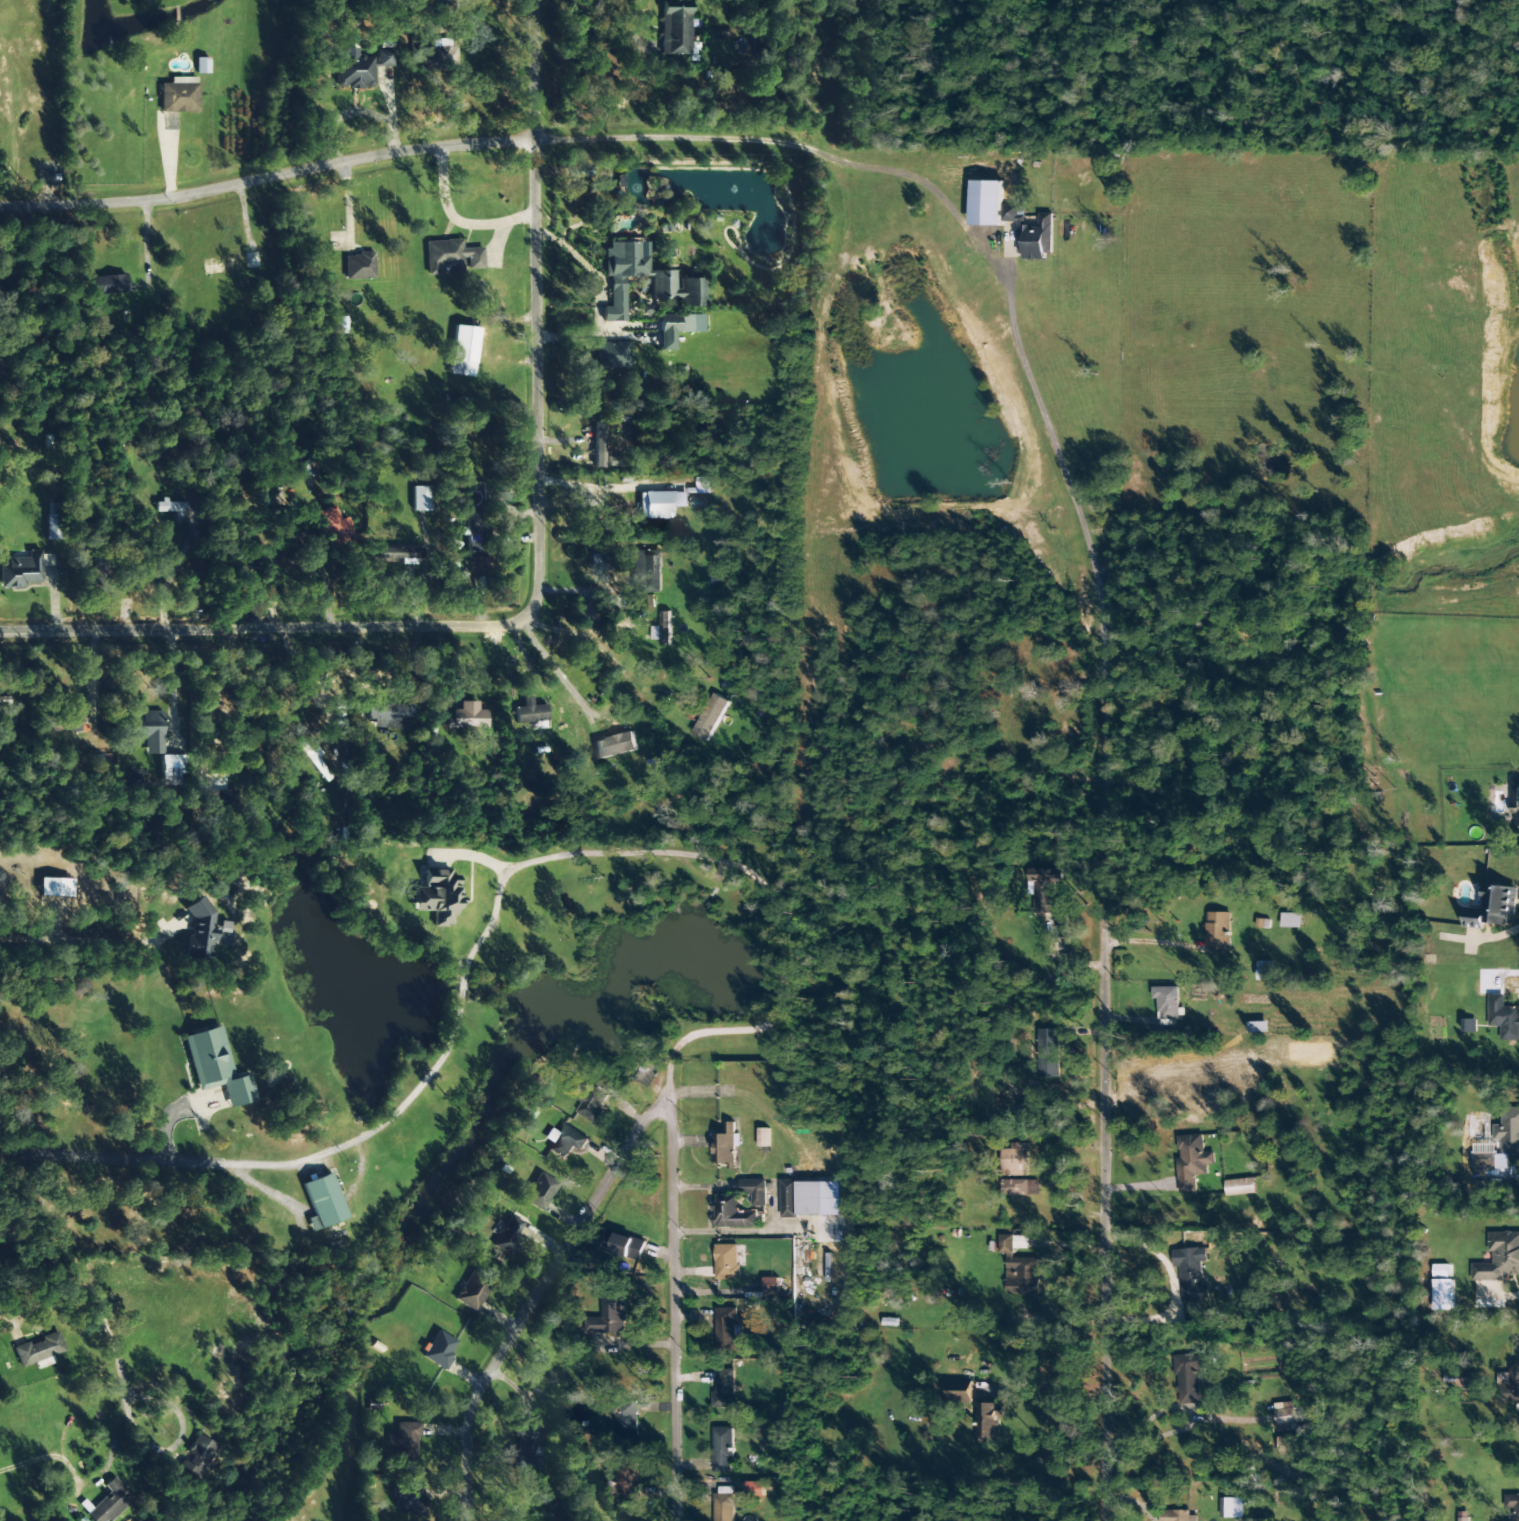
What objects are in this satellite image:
building: (675, 31)
building: (438, 59)
building: (201, 65)
building: (359, 68)
road: (521, 69)
building: (179, 95)
building: (576, 171)
road: (265, 178)
building: (1031, 234)
building: (451, 256)
building: (358, 267)
building: (110, 285)
road: (1027, 287)
building: (677, 289)
building: (676, 328)
building: (462, 351)
building: (611, 356)
building: (598, 445)
building: (704, 485)
building: (421, 499)
building: (661, 504)
building: (170, 506)
building: (51, 527)
building: (338, 529)
building: (475, 534)
building: (398, 552)
building: (23, 570)
building: (646, 571)
building: (637, 602)
road: (501, 623)
building: (663, 629)
building: (529, 712)
building: (388, 714)
building: (466, 717)
building: (710, 717)
building: (62, 723)
building: (149, 730)
building: (615, 746)
building: (171, 769)
road: (725, 862)
building: (55, 887)
building: (1044, 889)
building: (437, 897)
building: (1493, 907)
building: (1060, 919)
building: (1290, 920)
building: (203, 931)
building: (1218, 934)
building: (1265, 971)
building: (1167, 1002)
building: (1504, 1018)
building: (1469, 1025)
building: (1258, 1027)
building: (1048, 1054)
building: (216, 1067)
building: (592, 1103)
building: (1508, 1132)
building: (763, 1138)
building: (566, 1142)
building: (725, 1145)
building: (1483, 1159)
building: (1015, 1160)
building: (1191, 1162)
road: (1129, 1174)
building: (1240, 1187)
building: (1021, 1188)
building: (540, 1192)
building: (755, 1192)
building: (812, 1199)
building: (323, 1202)
building: (731, 1213)
building: (507, 1234)
building: (623, 1246)
building: (1499, 1258)
building: (727, 1262)
building: (1020, 1268)
building: (1191, 1281)
building: (772, 1285)
road: (526, 1289)
building: (472, 1292)
building: (609, 1315)
building: (726, 1331)
building: (439, 1350)
building: (39, 1351)
building: (1189, 1377)
building: (1512, 1384)
building: (725, 1388)
building: (961, 1391)
building: (1285, 1412)
building: (626, 1418)
building: (990, 1422)
building: (404, 1441)
building: (1289, 1445)
building: (723, 1449)
building: (196, 1457)
building: (628, 1481)
building: (755, 1489)
building: (409, 1499)
building: (109, 1502)
building: (1512, 1504)
building: (724, 1507)
building: (1226, 1508)
building: (1178, 1516)
building: (1463, 1516)

